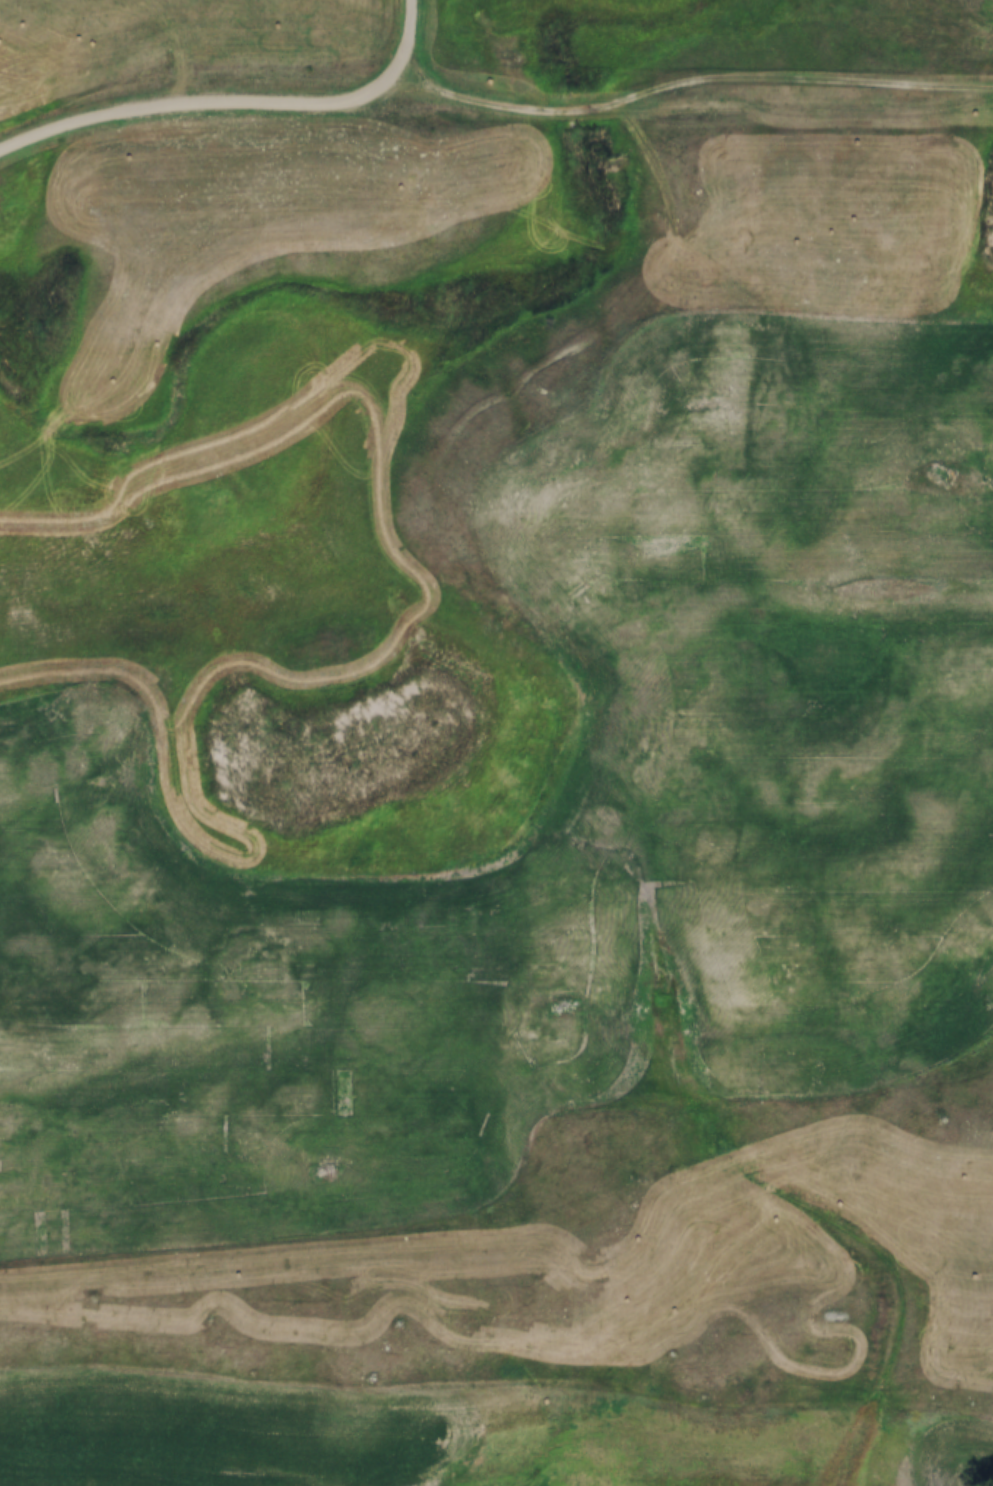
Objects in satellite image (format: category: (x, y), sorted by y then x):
road: (687, 82)
road: (241, 105)

